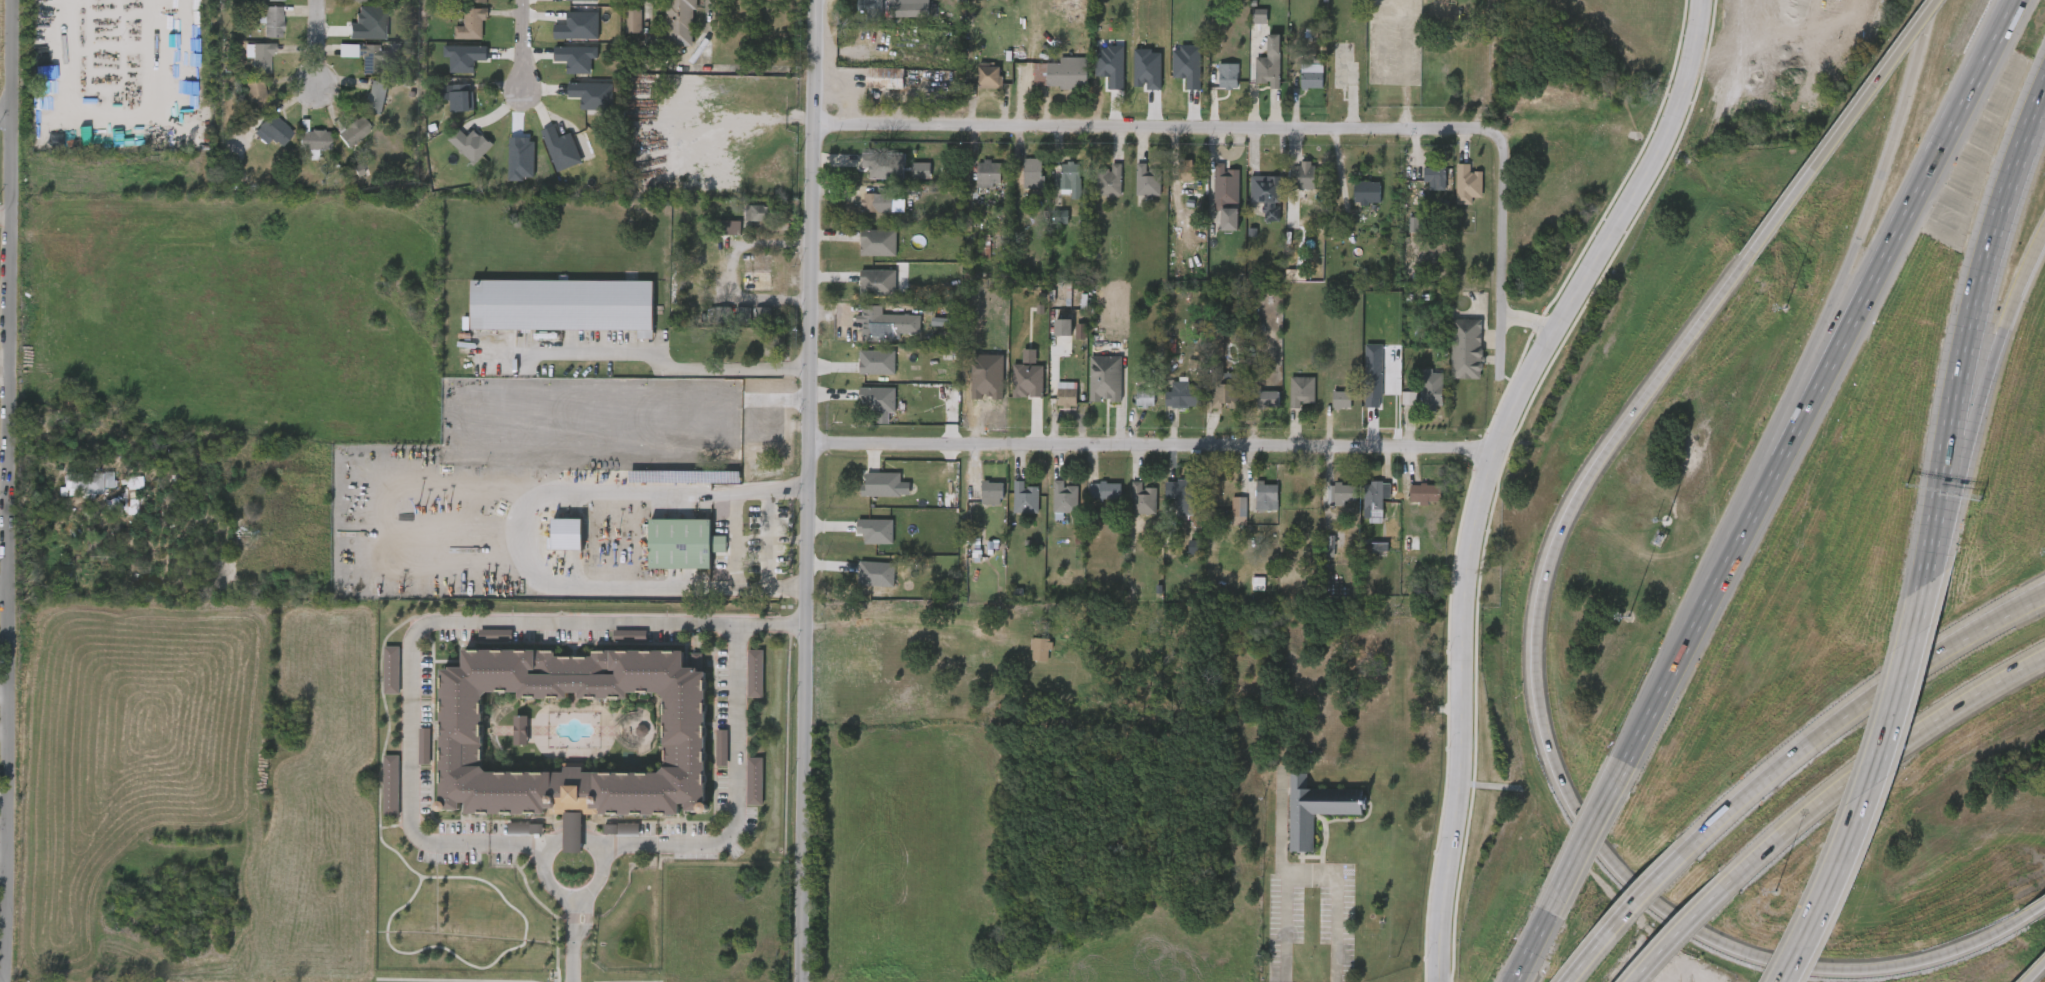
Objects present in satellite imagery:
building: (357, 0)
building: (478, 1)
building: (261, 5)
building: (464, 6)
building: (873, 9)
building: (903, 10)
building: (860, 14)
building: (1054, 18)
building: (633, 20)
building: (272, 21)
building: (680, 22)
building: (472, 24)
building: (1246, 26)
building: (258, 31)
building: (620, 31)
building: (459, 34)
road: (324, 42)
road: (522, 47)
building: (1621, 50)
building: (262, 58)
building: (372, 58)
building: (1268, 63)
road: (1407, 64)
building: (363, 67)
building: (450, 67)
building: (248, 68)
building: (563, 68)
building: (1256, 73)
building: (1059, 74)
building: (1227, 75)
building: (1310, 75)
building: (1344, 75)
building: (989, 76)
building: (884, 77)
building: (1298, 85)
building: (976, 86)
building: (1214, 86)
building: (871, 88)
building: (256, 94)
building: (458, 96)
building: (375, 97)
building: (241, 105)
building: (362, 107)
building: (444, 107)
road: (9, 115)
road: (112, 115)
road: (1845, 126)
road: (1142, 127)
building: (274, 129)
building: (353, 131)
building: (314, 139)
building: (262, 140)
building: (340, 142)
building: (300, 150)
building: (456, 154)
building: (1187, 170)
building: (1031, 171)
building: (988, 173)
building: (1305, 174)
building: (1069, 176)
building: (871, 178)
building: (1147, 178)
building: (1434, 178)
building: (1108, 180)
building: (1174, 180)
building: (1019, 181)
building: (1225, 182)
building: (1467, 183)
building: (975, 184)
building: (1291, 185)
building: (1421, 188)
road: (1876, 188)
building: (1058, 189)
building: (1097, 191)
building: (1134, 191)
building: (1366, 191)
building: (1266, 194)
building: (1453, 194)
building: (1212, 196)
building: (871, 202)
building: (1353, 202)
building: (1253, 205)
road: (9, 212)
building: (760, 213)
building: (864, 213)
building: (1228, 218)
building: (745, 223)
building: (1216, 229)
building: (1400, 234)
building: (717, 238)
building: (878, 242)
road: (1503, 243)
building: (865, 252)
road: (1986, 255)
road: (729, 267)
building: (876, 281)
building: (864, 293)
building: (562, 304)
road: (1529, 319)
building: (868, 323)
building: (730, 324)
building: (750, 325)
road: (2002, 335)
building: (1049, 337)
building: (1466, 348)
road: (8, 355)
building: (1452, 358)
road: (643, 367)
building: (863, 372)
building: (1105, 378)
building: (1431, 387)
building: (1092, 388)
building: (1301, 390)
road: (1807, 391)
building: (1182, 394)
building: (1225, 394)
building: (1066, 396)
building: (1144, 397)
building: (1269, 398)
building: (1341, 399)
building: (1417, 400)
building: (1288, 401)
building: (1053, 404)
building: (1169, 405)
building: (1213, 406)
building: (1131, 407)
building: (1254, 409)
building: (1328, 409)
building: (864, 411)
road: (1775, 436)
building: (750, 442)
road: (1147, 445)
building: (737, 452)
road: (1484, 467)
building: (81, 482)
road: (15, 491)
road: (805, 491)
building: (990, 491)
building: (1105, 491)
building: (1344, 491)
building: (71, 493)
building: (868, 494)
building: (1187, 494)
building: (1425, 494)
building: (1267, 495)
building: (1065, 497)
building: (1375, 497)
building: (1025, 498)
building: (1143, 498)
building: (1091, 500)
building: (1159, 501)
building: (978, 503)
building: (1327, 503)
building: (1412, 503)
building: (150, 506)
building: (1253, 506)
road: (1569, 506)
building: (1051, 507)
building: (1012, 508)
building: (1173, 508)
building: (1129, 509)
road: (1933, 509)
building: (1361, 510)
building: (112, 512)
building: (1225, 516)
road: (518, 536)
road: (770, 539)
road: (736, 540)
building: (862, 540)
building: (683, 543)
building: (573, 555)
building: (1315, 555)
building: (1396, 556)
building: (862, 583)
road: (7, 588)
building: (1244, 593)
road: (580, 624)
road: (783, 624)
road: (750, 625)
building: (482, 645)
building: (616, 645)
building: (1026, 659)
building: (378, 679)
building: (742, 683)
road: (1852, 709)
building: (684, 736)
building: (411, 756)
building: (708, 757)
road: (1876, 760)
building: (741, 790)
road: (1868, 790)
building: (377, 795)
building: (1315, 808)
road: (1583, 829)
building: (508, 838)
building: (608, 838)
road: (545, 860)
road: (1311, 870)
road: (1563, 882)
road: (2039, 908)
road: (1622, 917)
road: (1678, 934)
road: (571, 940)
road: (1801, 965)
road: (2038, 975)

